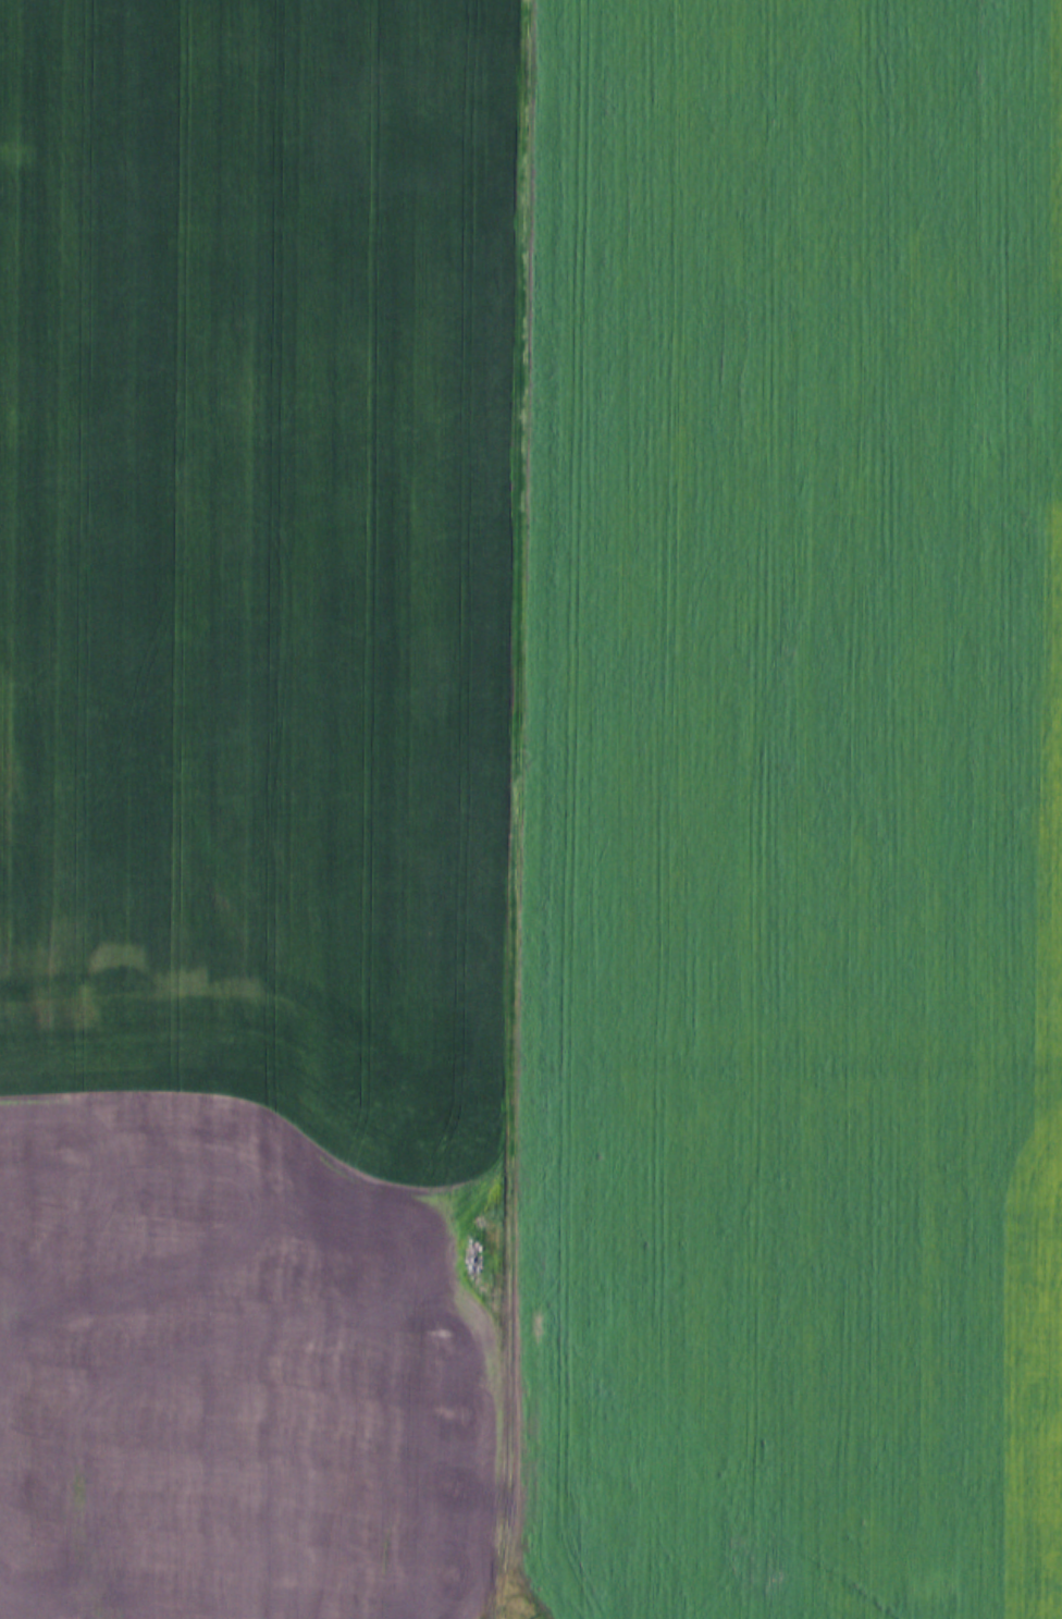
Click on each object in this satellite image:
road: (515, 809)

